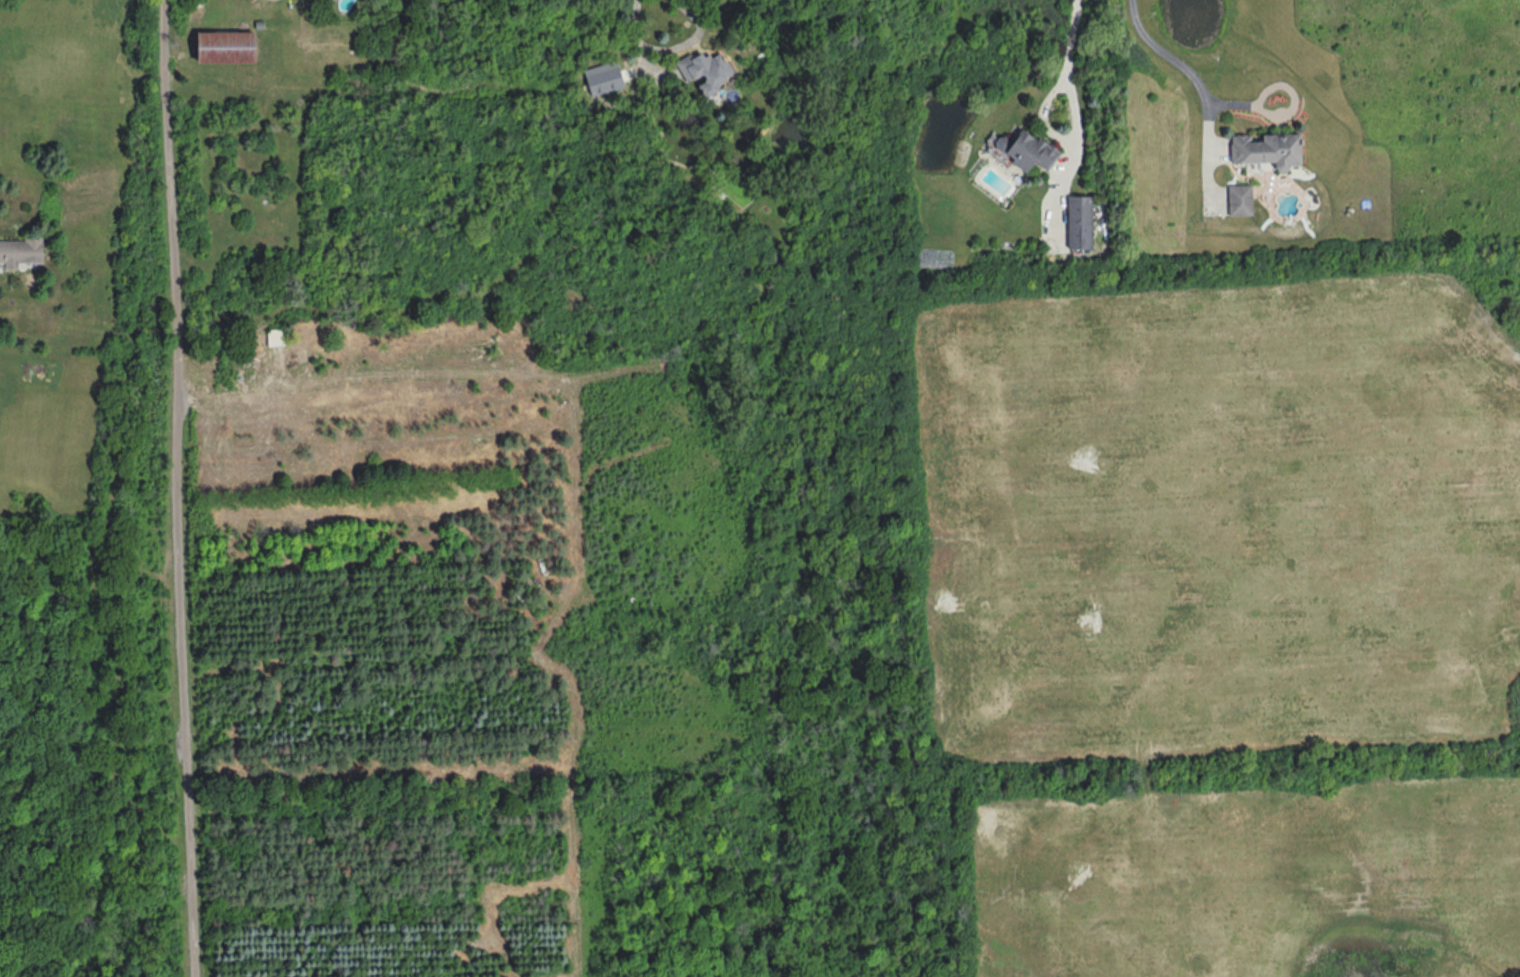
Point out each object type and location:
building: (260, 24)
building: (225, 44)
road: (670, 49)
building: (705, 69)
road: (649, 78)
road: (1206, 96)
road: (1281, 116)
road: (1043, 117)
road: (1077, 125)
building: (1269, 148)
building: (1033, 150)
road: (1219, 150)
building: (1241, 200)
building: (1081, 221)
building: (23, 251)
building: (276, 337)
road: (116, 483)
road: (177, 488)
crop: (1220, 521)
road: (115, 722)
crop: (1247, 879)

